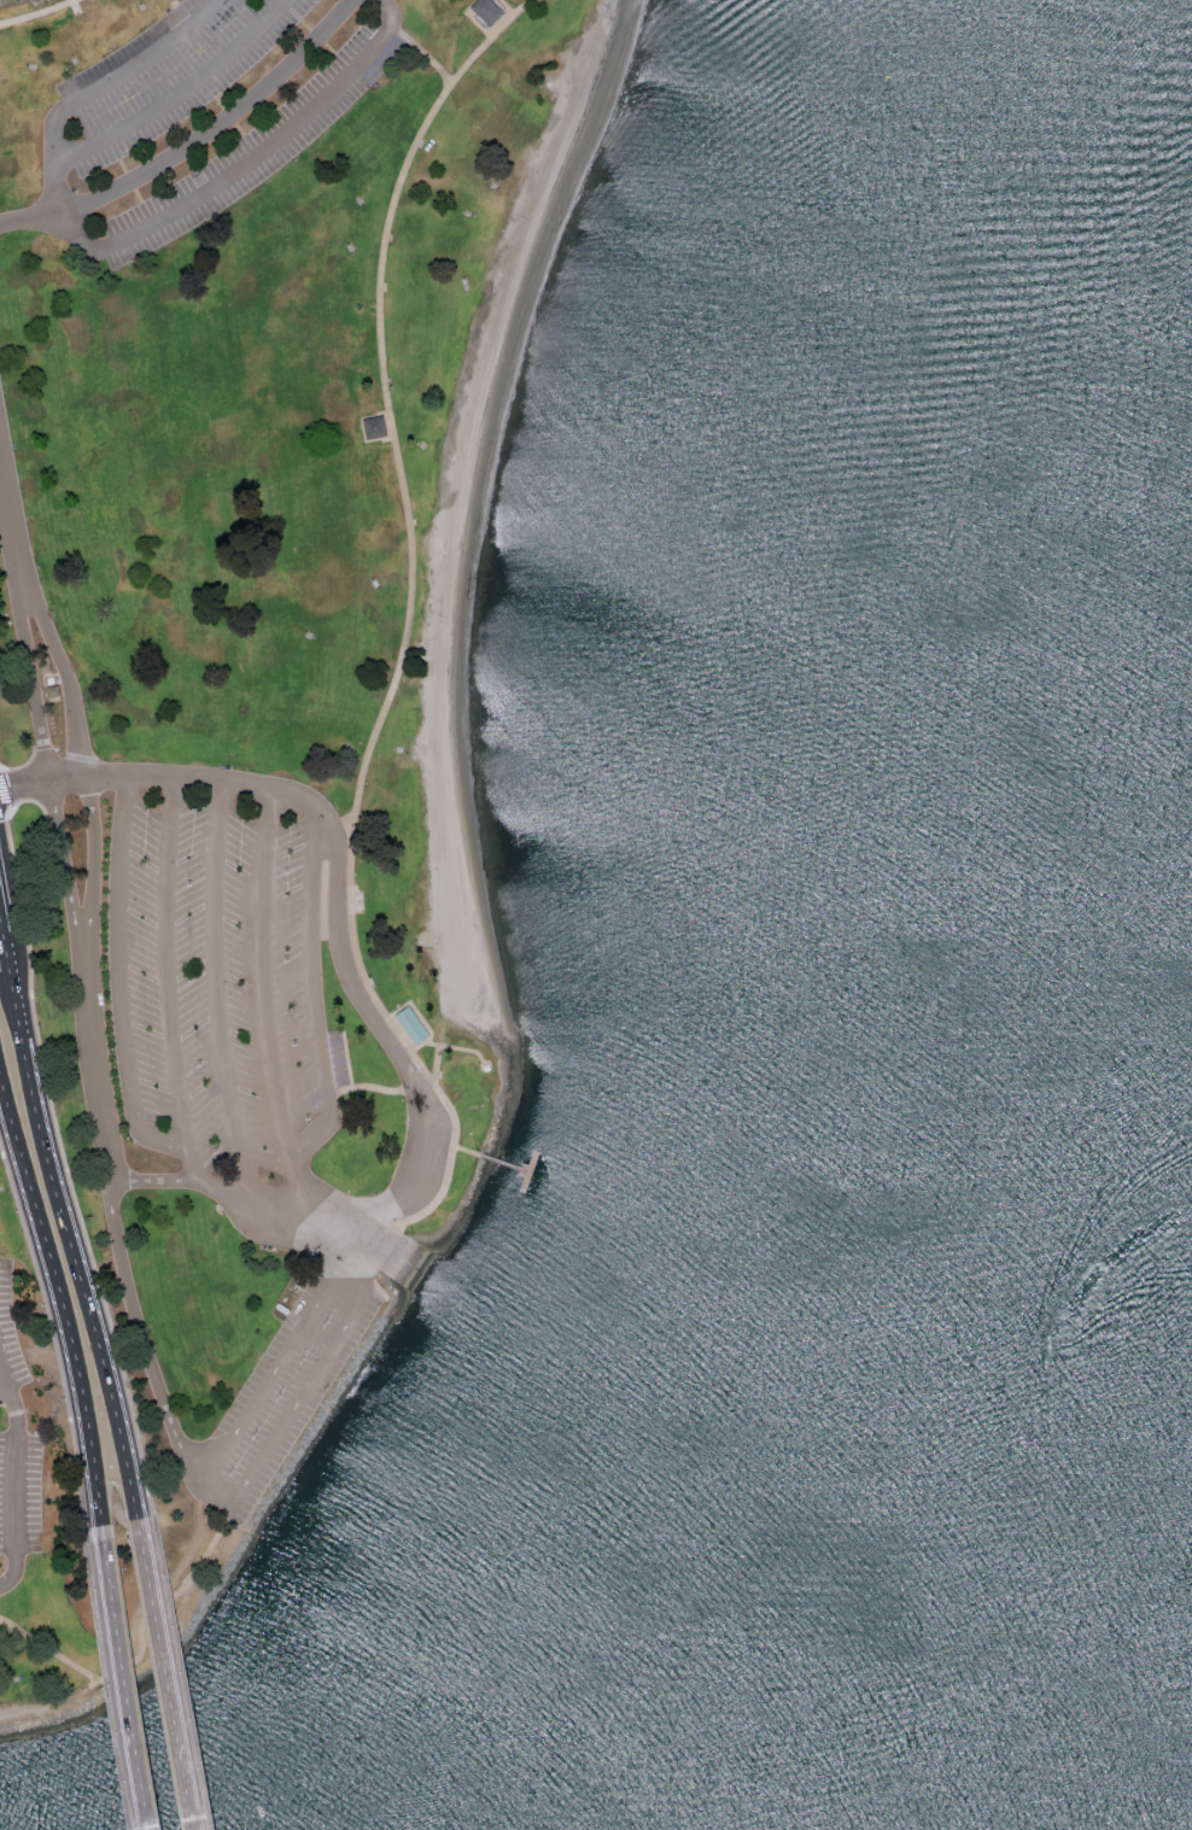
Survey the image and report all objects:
building: (489, 12)
road: (40, 13)
road: (430, 58)
road: (179, 94)
parking lot: (199, 115)
road: (194, 145)
road: (113, 245)
park: (284, 407)
building: (376, 429)
road: (12, 531)
road: (411, 618)
road: (66, 685)
road: (30, 691)
road: (65, 780)
road: (24, 785)
road: (93, 858)
road: (62, 860)
road: (0, 934)
parking lot: (218, 974)
road: (119, 982)
road: (166, 982)
road: (215, 989)
road: (312, 995)
road: (265, 1000)
building: (414, 1027)
road: (382, 1037)
road: (93, 1062)
road: (473, 1153)
pier: (509, 1167)
pier: (531, 1174)
road: (69, 1228)
road: (367, 1249)
road: (58, 1292)
road: (344, 1299)
road: (146, 1356)
road: (282, 1363)
parking lot: (281, 1396)
road: (292, 1409)
parking lot: (16, 1443)
road: (14, 1486)
park: (37, 1515)
road: (140, 1645)
road: (170, 1674)
road: (130, 1676)

